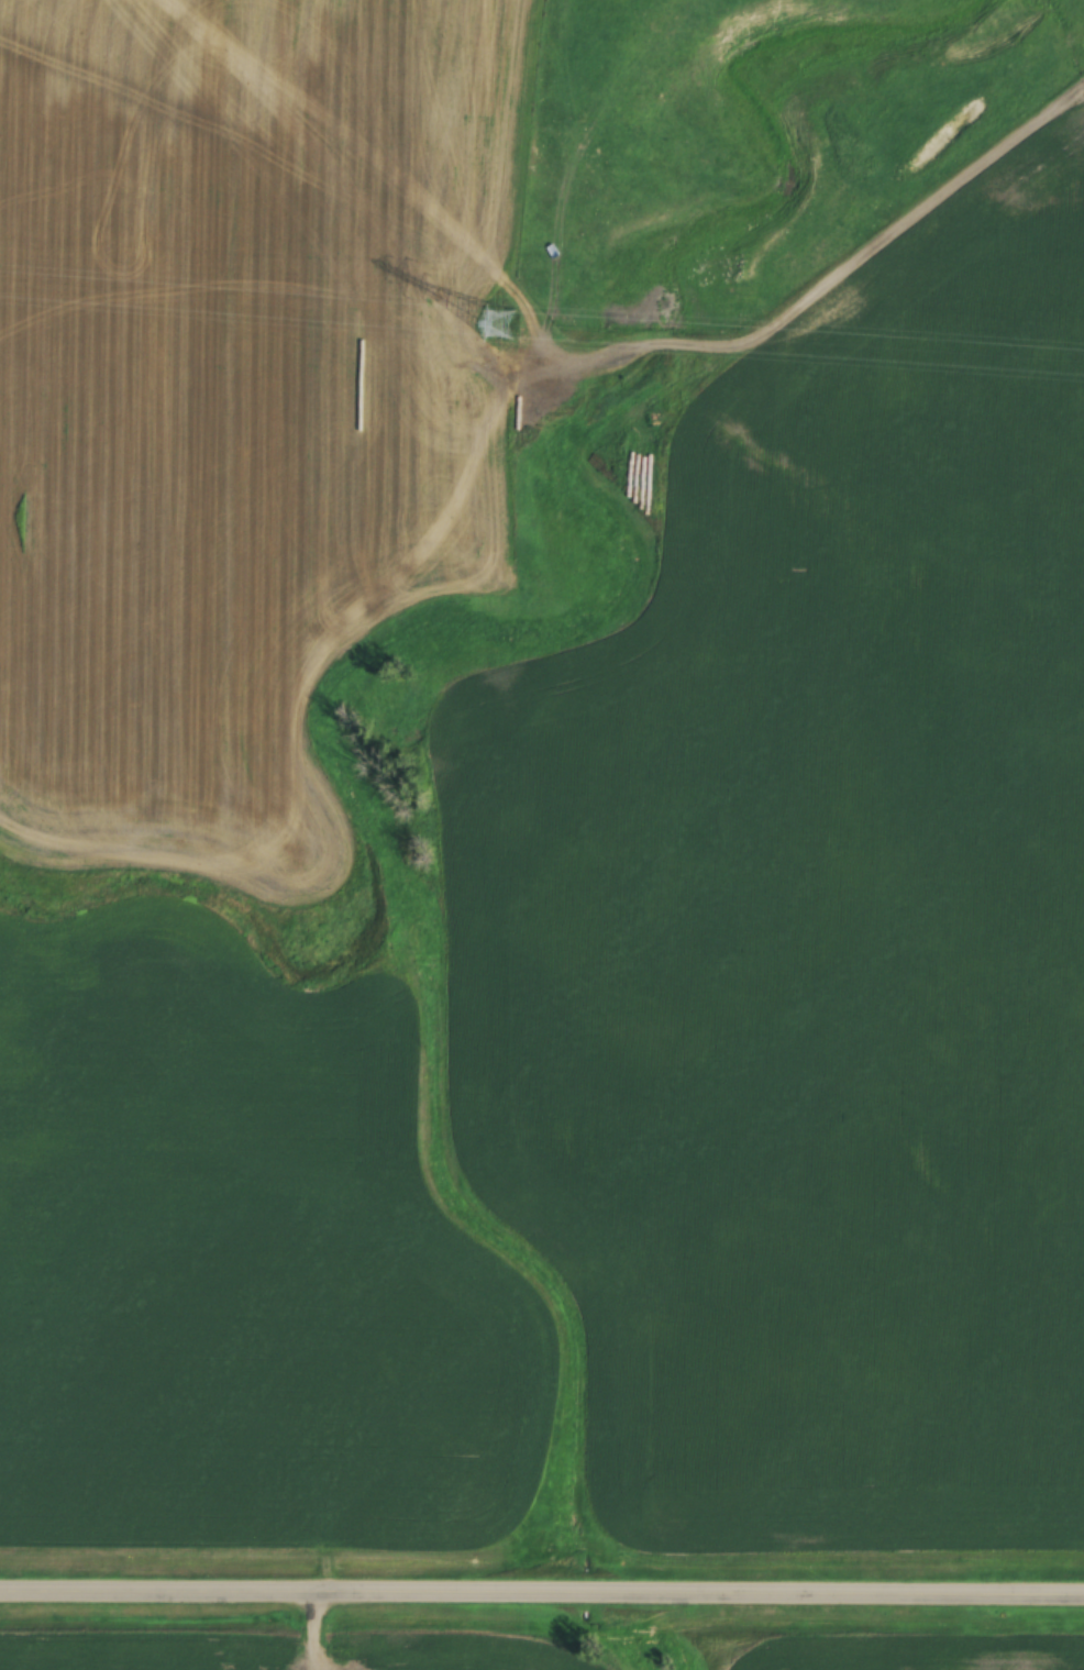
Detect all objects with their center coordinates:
power tower: (496, 328)
road: (541, 1589)
road: (314, 1629)

